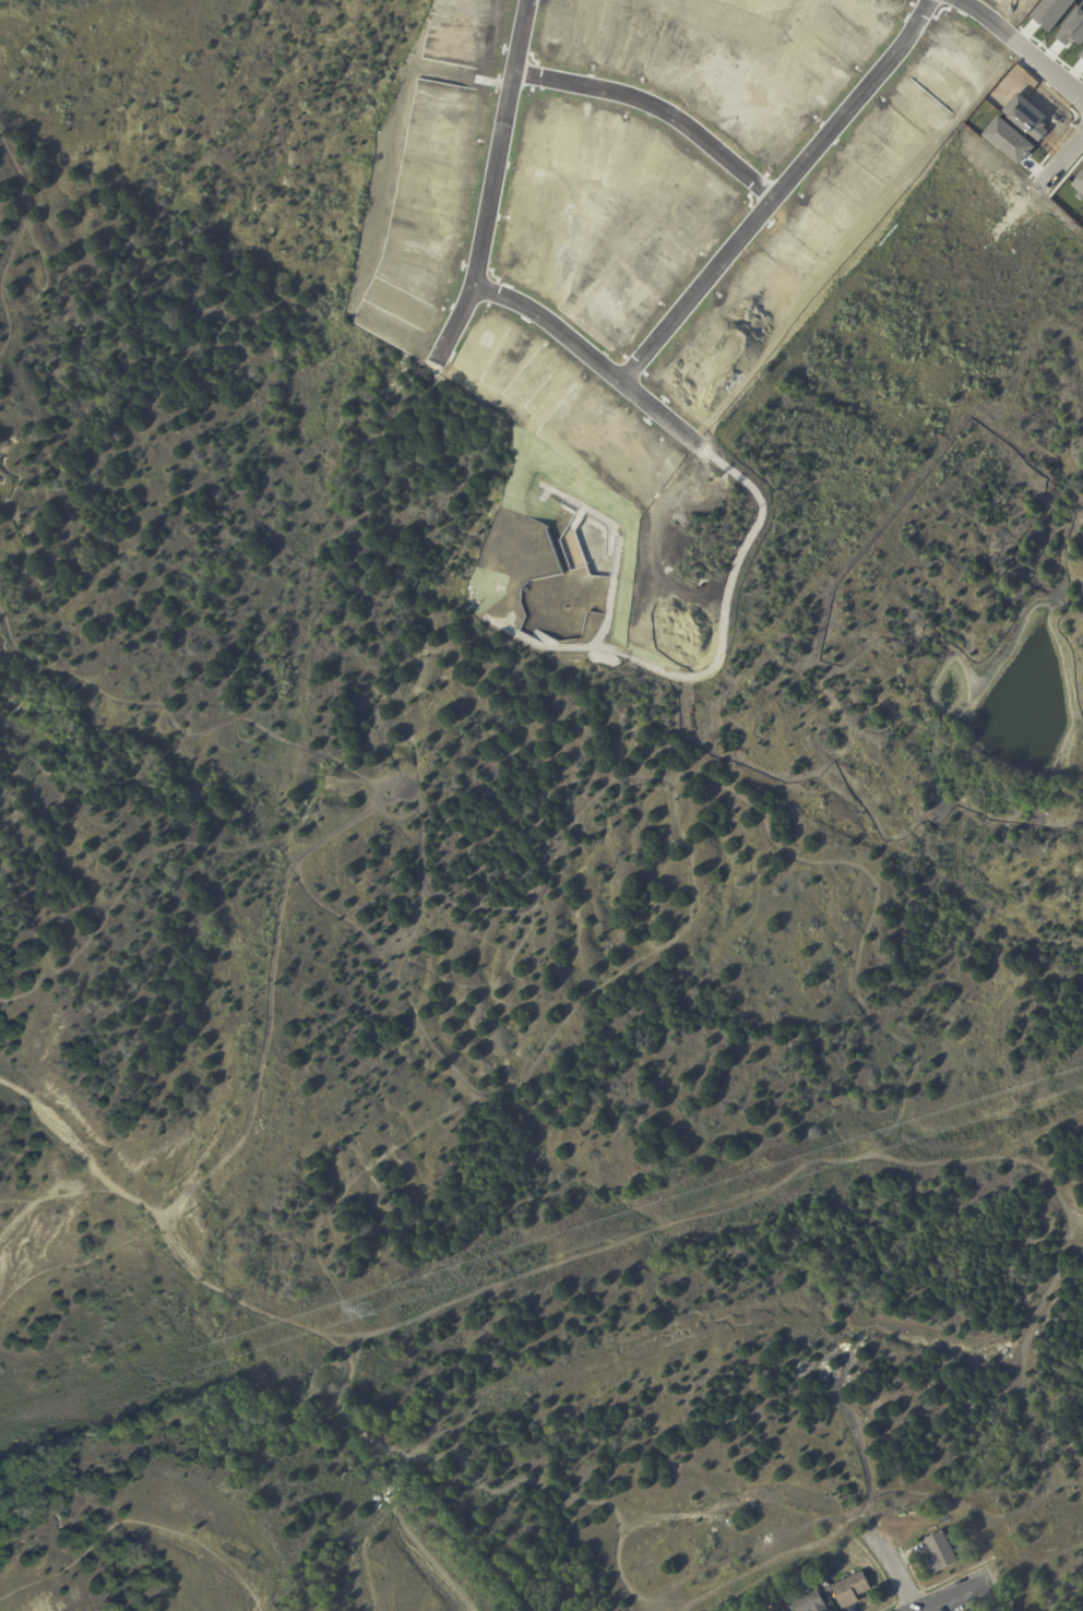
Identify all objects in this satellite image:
road: (1028, 37)
road: (663, 110)
road: (1064, 160)
road: (499, 187)
road: (784, 195)
road: (598, 361)
park: (698, 1202)
power tower: (371, 1309)
road: (282, 1320)
building: (942, 1552)
road: (1035, 1554)
road: (893, 1565)
building: (853, 1588)
road: (957, 1596)
building: (772, 1598)
building: (811, 1600)

